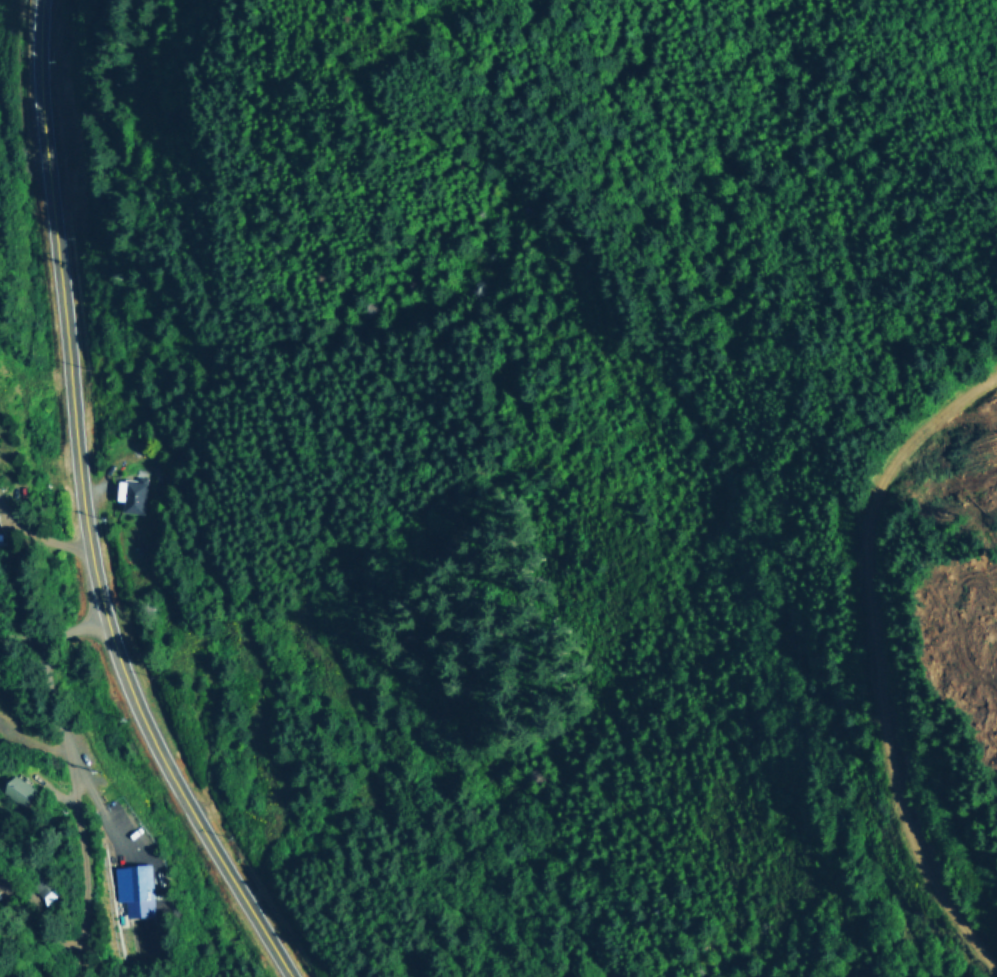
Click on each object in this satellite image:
building: (129, 493)
road: (84, 511)
road: (35, 531)
road: (891, 659)
road: (71, 778)
building: (17, 788)
building: (132, 888)

